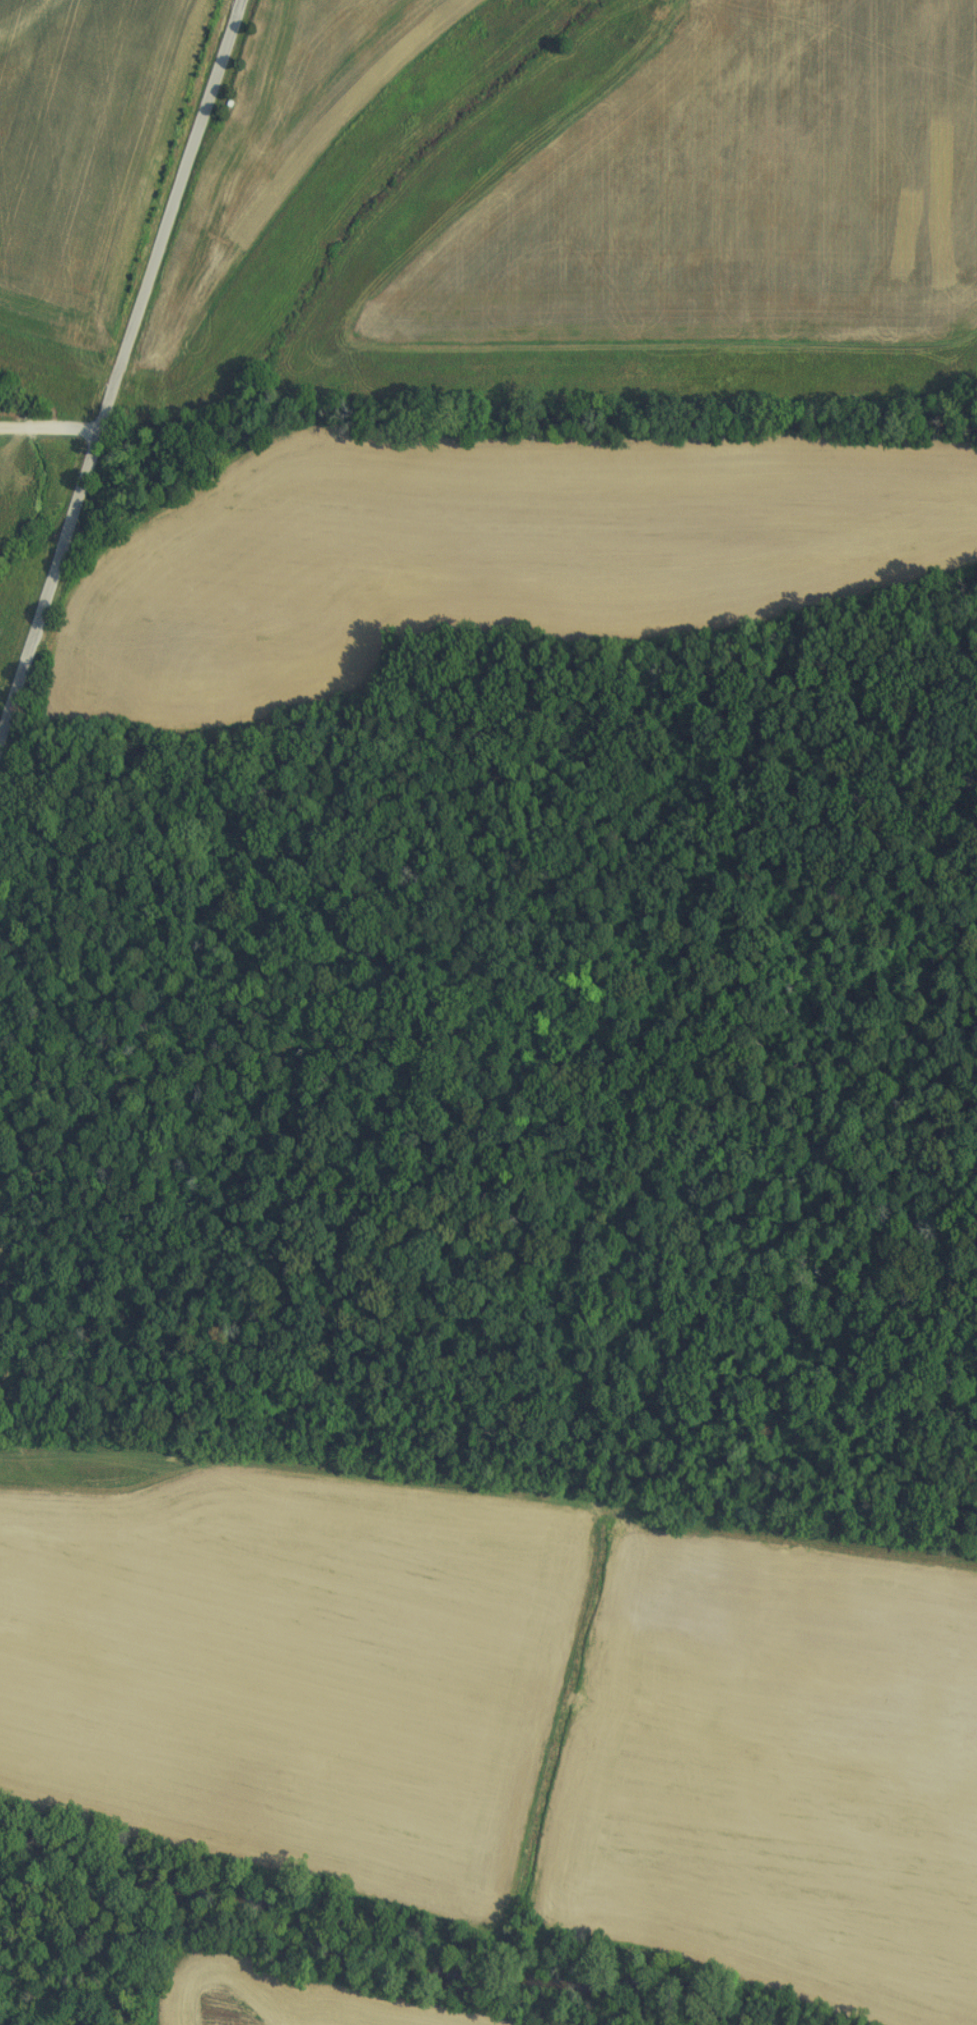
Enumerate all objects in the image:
road: (124, 370)
road: (53, 428)

